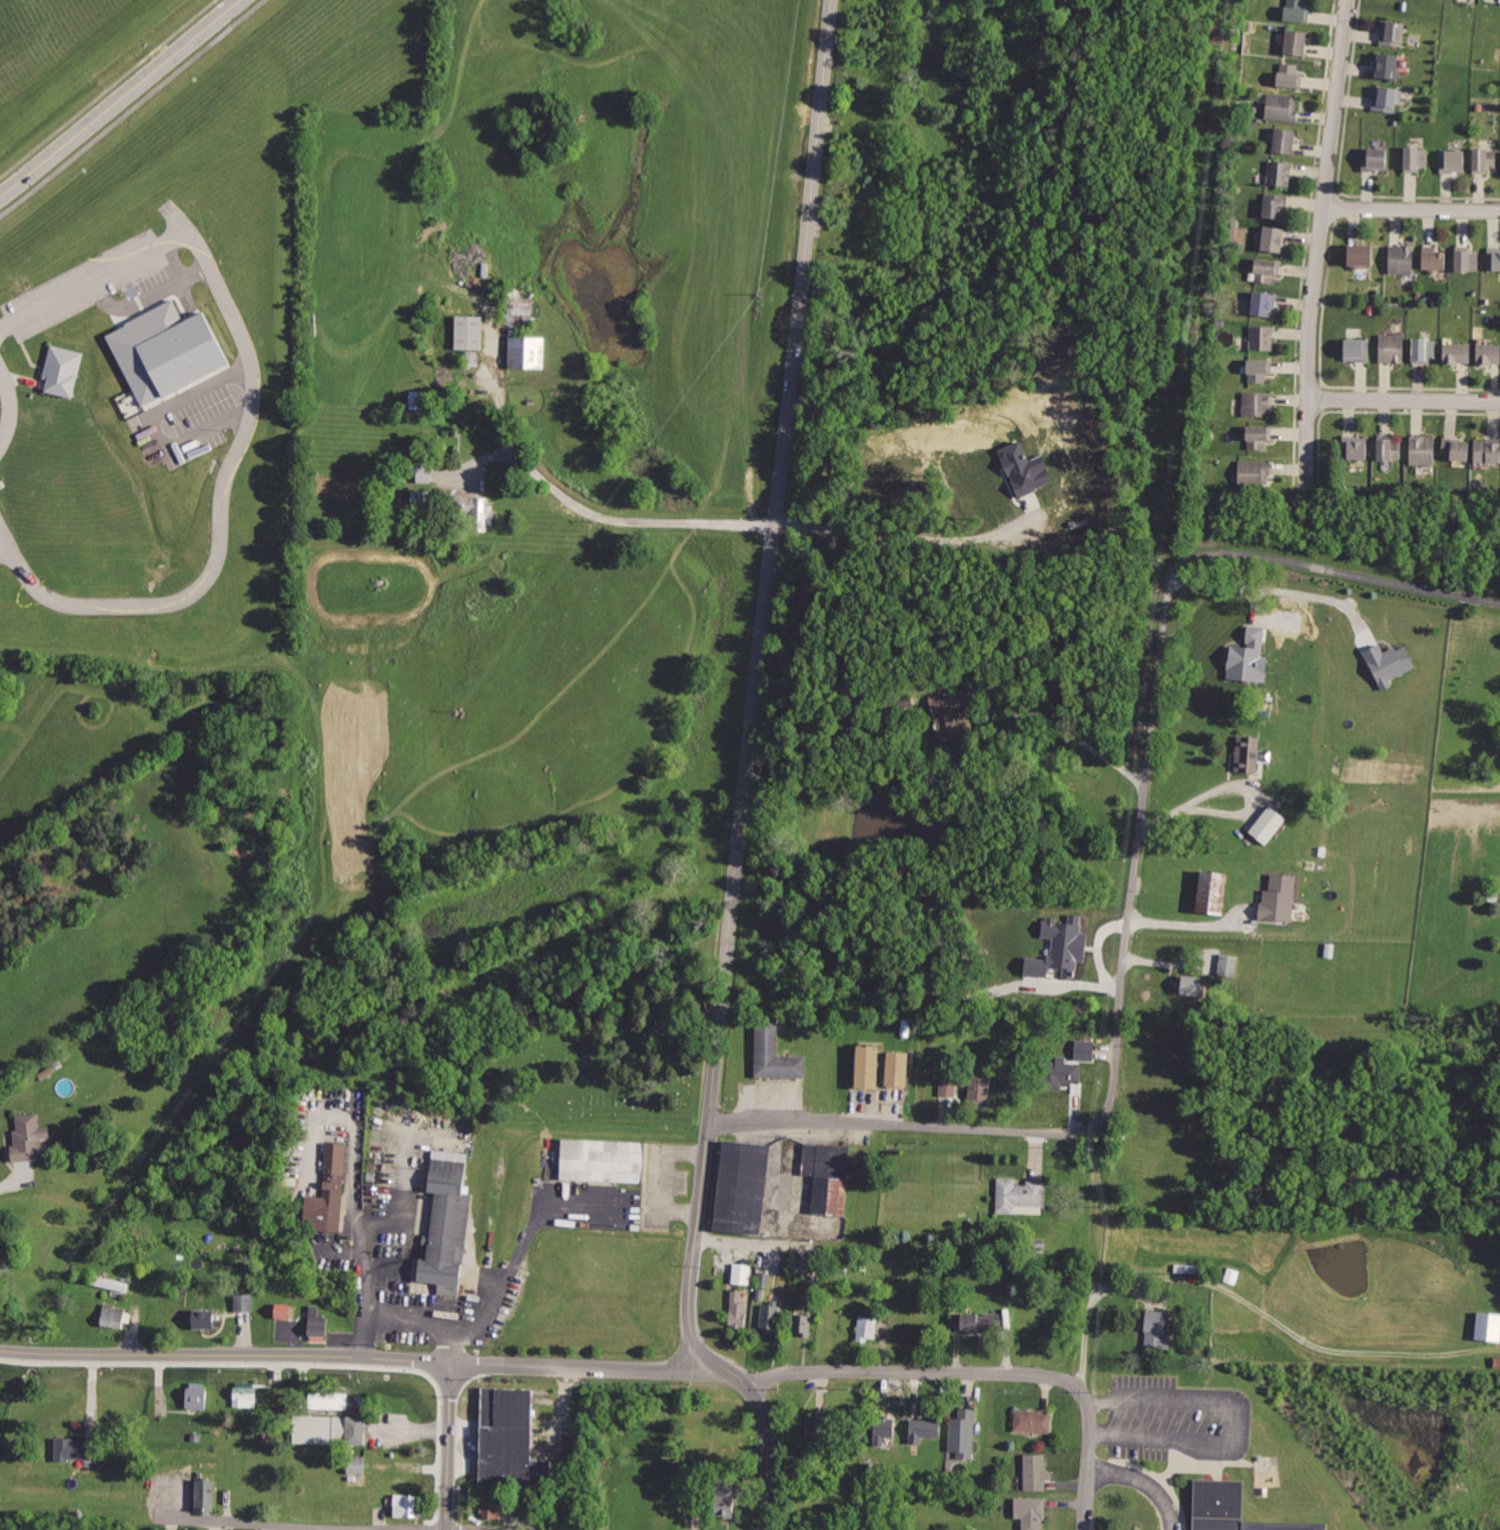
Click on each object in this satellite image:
building: (1295, 10)
building: (1391, 33)
building: (1297, 43)
building: (80, 66)
building: (1388, 66)
building: (1289, 75)
road: (107, 88)
road: (120, 99)
building: (1387, 100)
road: (131, 108)
building: (1284, 110)
building: (1284, 140)
building: (1412, 160)
building: (1484, 160)
building: (1376, 162)
building: (1451, 162)
building: (1279, 173)
building: (1276, 206)
road: (1412, 208)
building: (1274, 240)
road: (1320, 246)
building: (1359, 255)
building: (1494, 257)
building: (1433, 258)
building: (1401, 259)
building: (1465, 260)
building: (1266, 269)
road: (93, 277)
building: (1262, 303)
building: (468, 331)
building: (1259, 337)
building: (1391, 348)
building: (1424, 350)
building: (526, 351)
building: (1357, 351)
building: (1457, 352)
building: (165, 354)
building: (1488, 354)
building: (1260, 369)
building: (63, 371)
road: (1404, 402)
building: (1259, 403)
road: (9, 408)
road: (154, 428)
building: (1258, 437)
building: (1356, 448)
building: (1386, 449)
building: (1455, 449)
building: (1420, 450)
building: (1487, 452)
building: (1024, 469)
building: (1254, 473)
building: (421, 499)
road: (222, 506)
building: (471, 506)
road: (614, 514)
road: (908, 535)
road: (1333, 572)
road: (1276, 592)
building: (1248, 657)
building: (1388, 663)
road: (756, 704)
building: (948, 717)
road: (1055, 724)
building: (1249, 756)
road: (1239, 784)
building: (1267, 828)
road: (1140, 851)
building: (1214, 893)
building: (1278, 898)
road: (1192, 924)
building: (1059, 947)
building: (1227, 965)
building: (1191, 986)
building: (1083, 1047)
park: (594, 1049)
building: (775, 1055)
building: (870, 1067)
building: (899, 1068)
building: (1059, 1073)
building: (980, 1087)
building: (948, 1089)
road: (348, 1122)
road: (908, 1128)
building: (31, 1138)
building: (605, 1161)
road: (659, 1179)
building: (836, 1179)
road: (13, 1184)
building: (749, 1189)
building: (1022, 1197)
building: (329, 1205)
building: (445, 1216)
road: (363, 1245)
building: (804, 1265)
building: (742, 1274)
building: (108, 1282)
road: (503, 1282)
building: (764, 1284)
building: (243, 1303)
building: (739, 1309)
building: (282, 1310)
building: (113, 1317)
building: (770, 1317)
building: (204, 1319)
road: (402, 1319)
building: (977, 1319)
road: (1088, 1322)
building: (317, 1323)
building: (803, 1325)
building: (1486, 1326)
building: (1160, 1327)
building: (868, 1328)
road: (1303, 1340)
road: (291, 1354)
building: (1496, 1361)
road: (562, 1368)
road: (913, 1375)
building: (244, 1395)
building: (197, 1396)
building: (330, 1400)
road: (1239, 1418)
building: (1032, 1420)
parking lot: (1176, 1420)
building: (819, 1424)
building: (885, 1426)
building: (329, 1430)
road: (411, 1430)
building: (926, 1430)
building: (963, 1434)
building: (515, 1442)
building: (1292, 1447)
building: (76, 1451)
park: (1498, 1452)
road: (766, 1456)
road: (1088, 1460)
building: (799, 1466)
building: (356, 1467)
building: (1037, 1471)
road: (1162, 1479)
road: (1144, 1482)
building: (726, 1493)
building: (208, 1494)
building: (407, 1502)
building: (492, 1508)
building: (1033, 1511)
road: (332, 1526)
road: (423, 1528)
road: (461, 1529)

